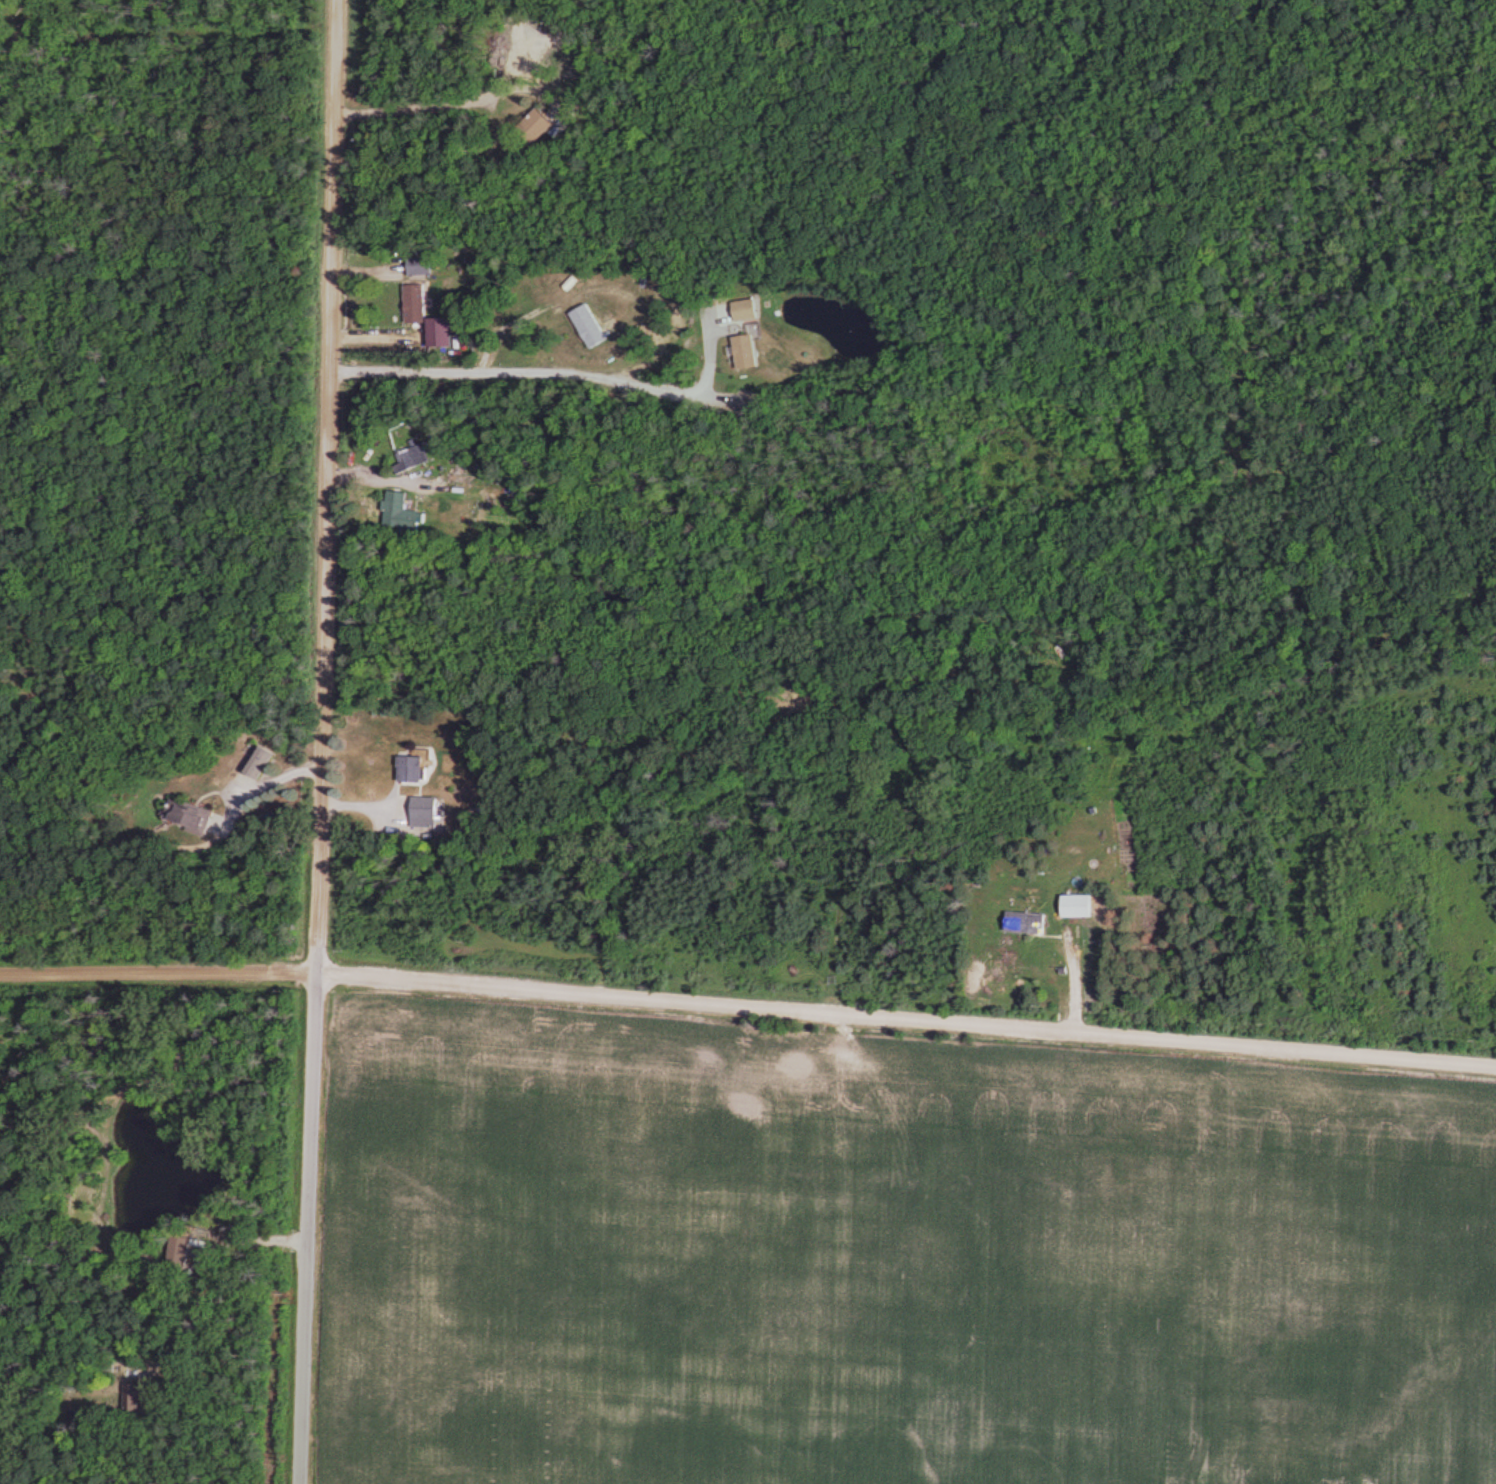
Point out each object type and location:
road: (431, 105)
building: (546, 121)
building: (421, 265)
building: (419, 303)
road: (503, 326)
building: (610, 329)
road: (374, 338)
building: (748, 352)
road: (550, 379)
building: (412, 455)
building: (413, 519)
road: (324, 742)
building: (262, 760)
building: (416, 769)
road: (264, 784)
building: (434, 810)
building: (196, 817)
building: (1071, 904)
building: (1021, 921)
road: (748, 1007)
road: (256, 1239)
building: (139, 1396)

